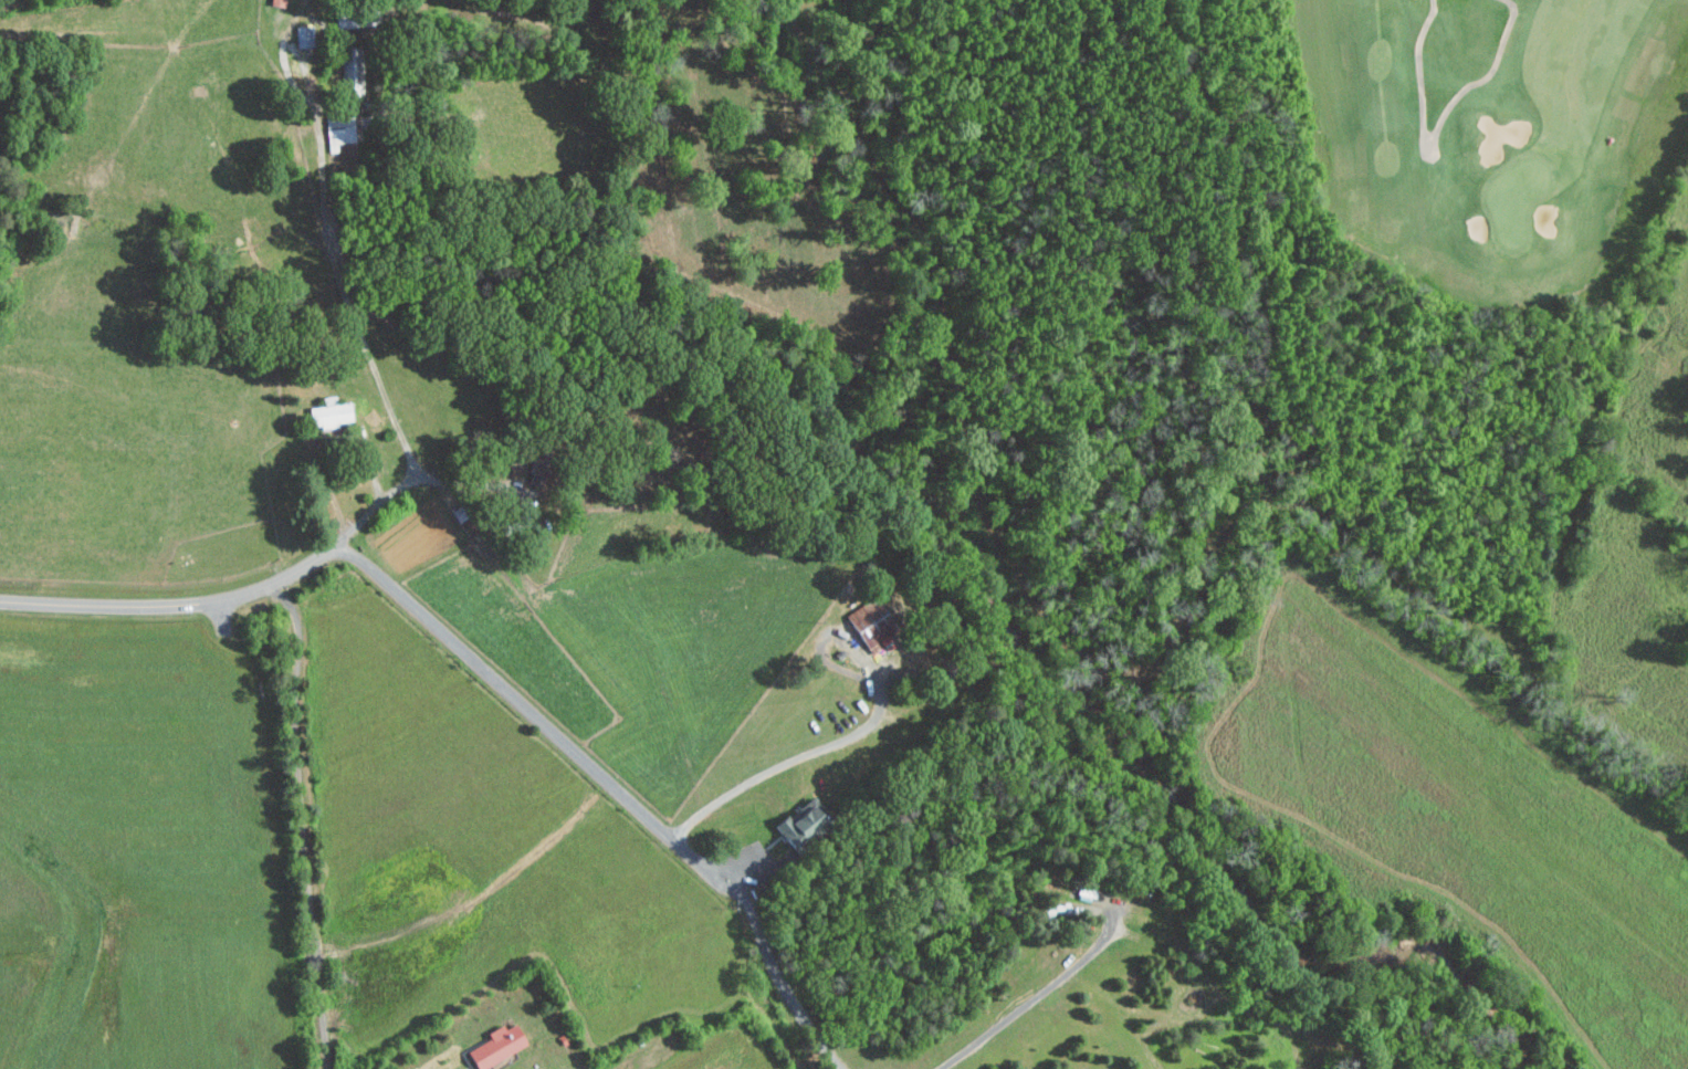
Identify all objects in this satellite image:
building: (277, 2)
building: (302, 35)
building: (338, 128)
park: (1367, 298)
road: (367, 344)
building: (329, 412)
road: (465, 482)
road: (134, 605)
building: (868, 621)
road: (586, 758)
road: (793, 759)
road: (302, 821)
building: (794, 822)
road: (1038, 994)
building: (492, 1046)

